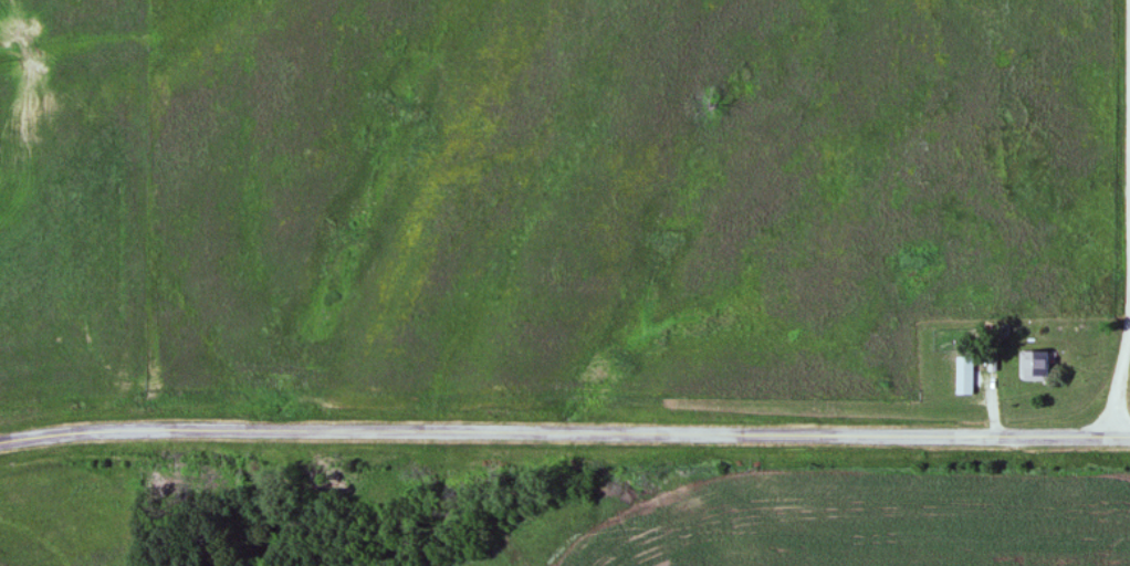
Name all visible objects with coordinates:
road: (1128, 75)
road: (1121, 334)
building: (1036, 366)
road: (990, 396)
road: (564, 432)

